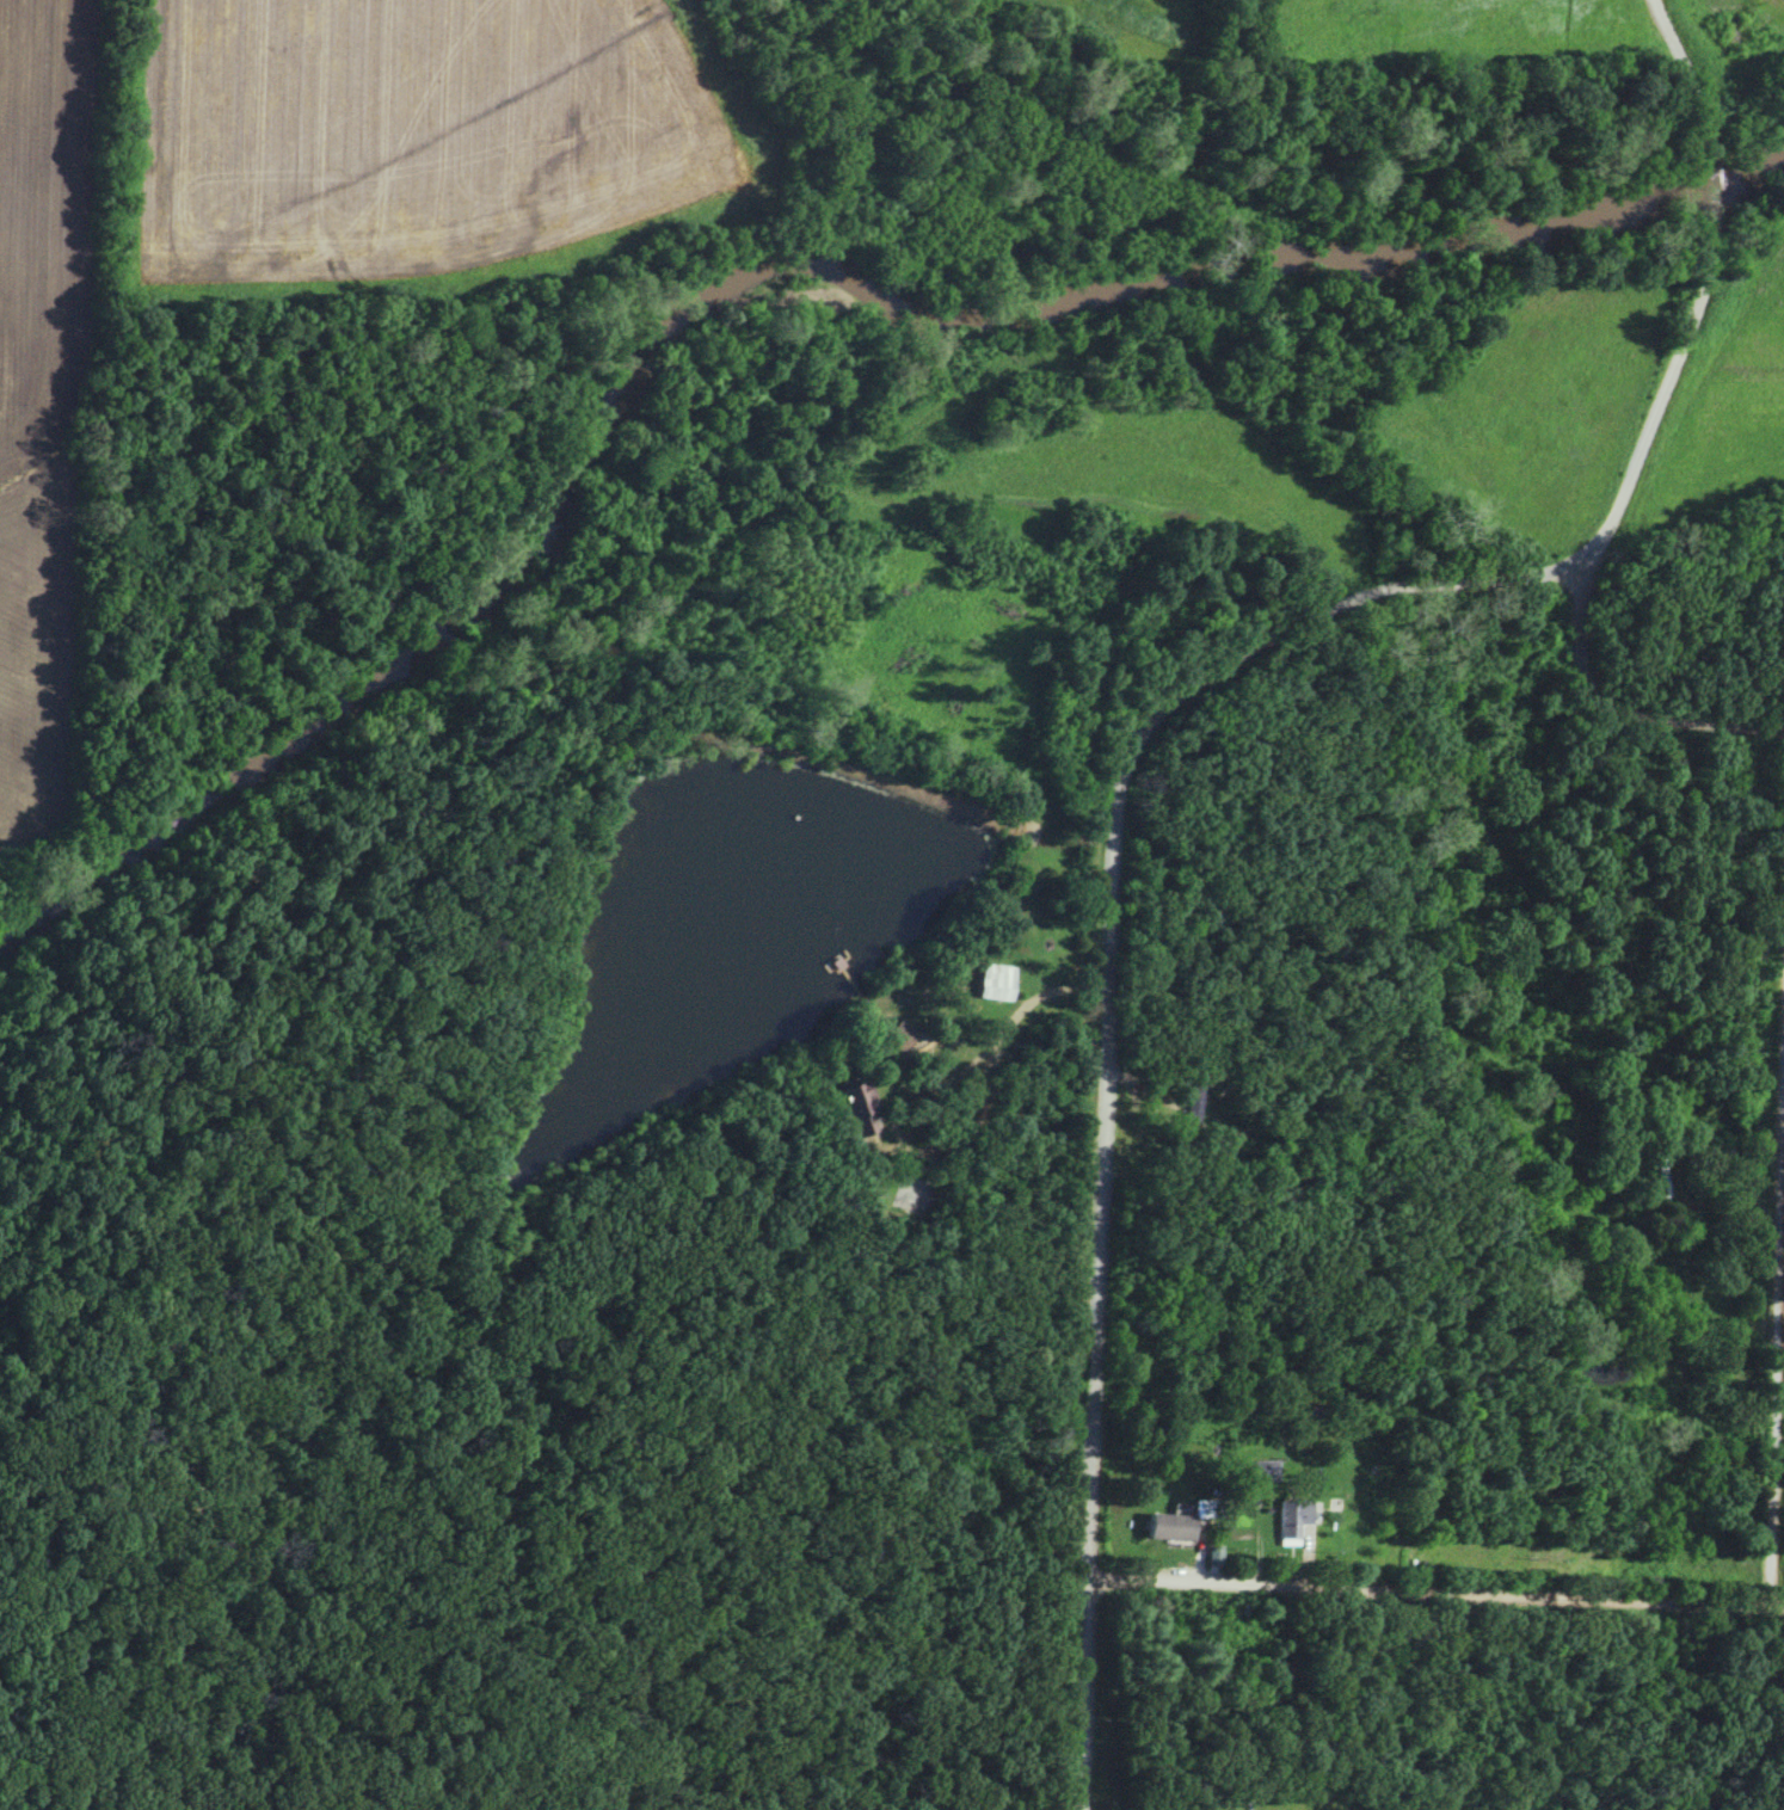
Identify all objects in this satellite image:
road: (1708, 291)
road: (1624, 709)
building: (996, 980)
road: (1114, 1023)
building: (900, 1035)
building: (1196, 1098)
building: (862, 1104)
building: (1666, 1172)
road: (897, 1190)
road: (1778, 1352)
building: (1265, 1470)
building: (1185, 1519)
building: (1294, 1519)
road: (1438, 1588)

